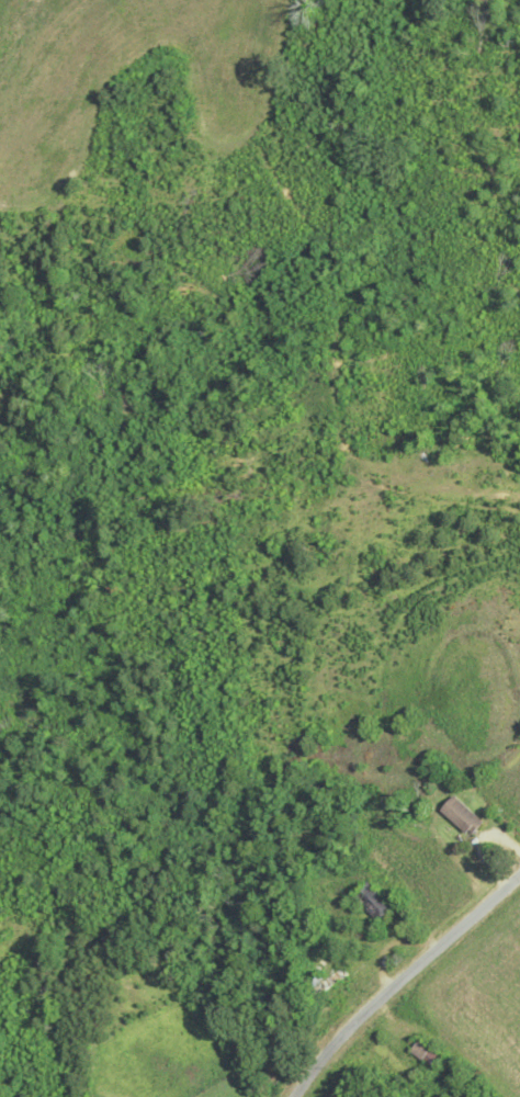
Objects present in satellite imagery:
building: (463, 816)
building: (374, 902)
road: (402, 980)
building: (331, 982)
building: (427, 1051)

